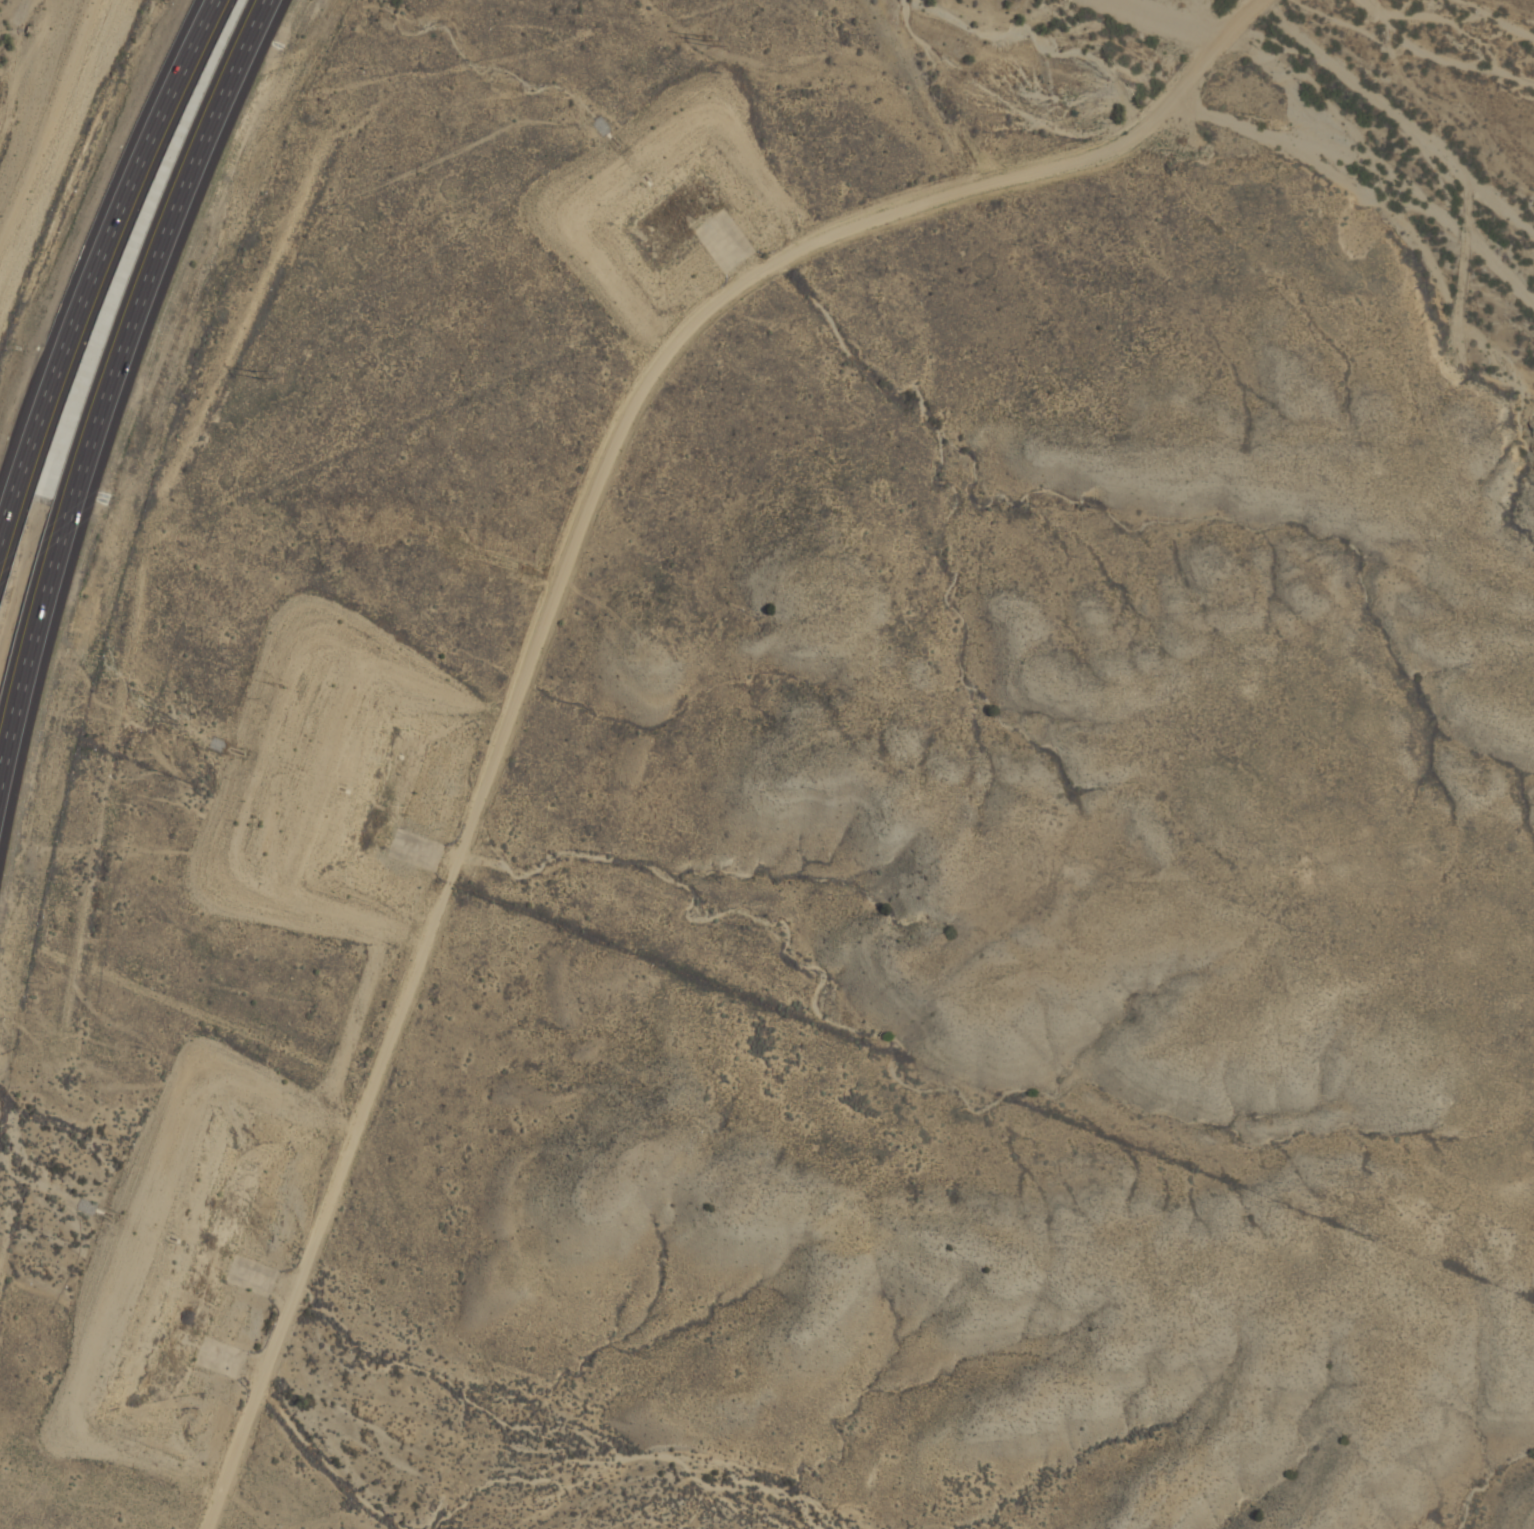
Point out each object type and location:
dam: (626, 150)
road: (104, 252)
power tower: (252, 371)
road: (110, 389)
road: (547, 599)

